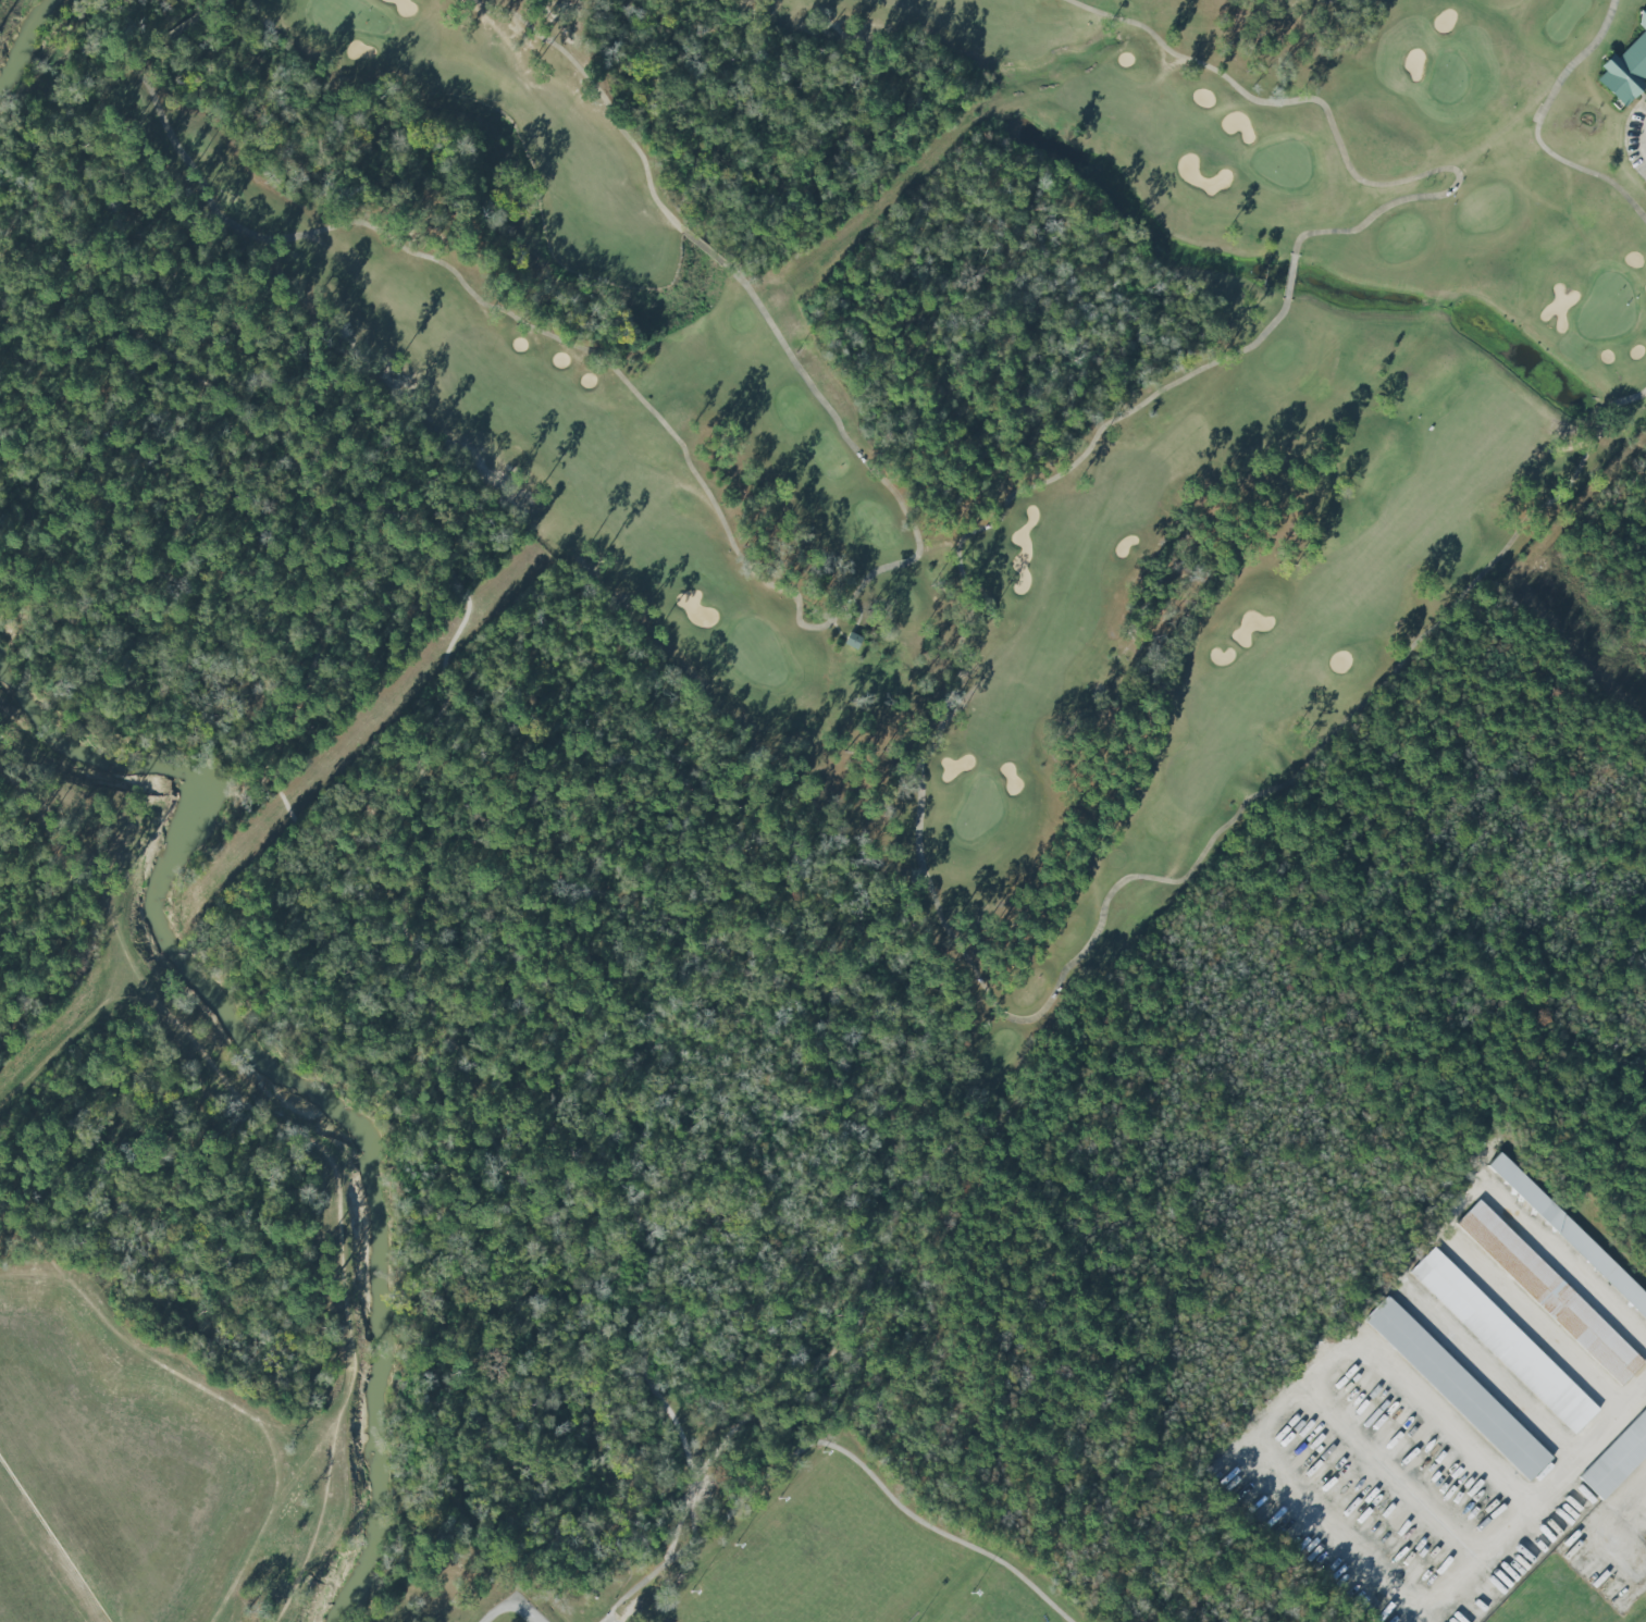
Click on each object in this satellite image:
river: (20, 21)
building: (1624, 71)
road: (1644, 138)
park: (871, 496)
building: (852, 641)
road: (473, 814)
road: (385, 889)
river: (292, 1074)
park: (491, 1197)
building: (1570, 1233)
road: (1572, 1254)
building: (1547, 1291)
road: (1538, 1323)
building: (1502, 1340)
road: (1493, 1376)
building: (1457, 1388)
road: (840, 1449)
building: (1617, 1458)
road: (1499, 1477)
road: (1621, 1539)
park: (824, 1563)
road: (509, 1607)
park: (988, 1611)
parking lot: (614, 1619)

